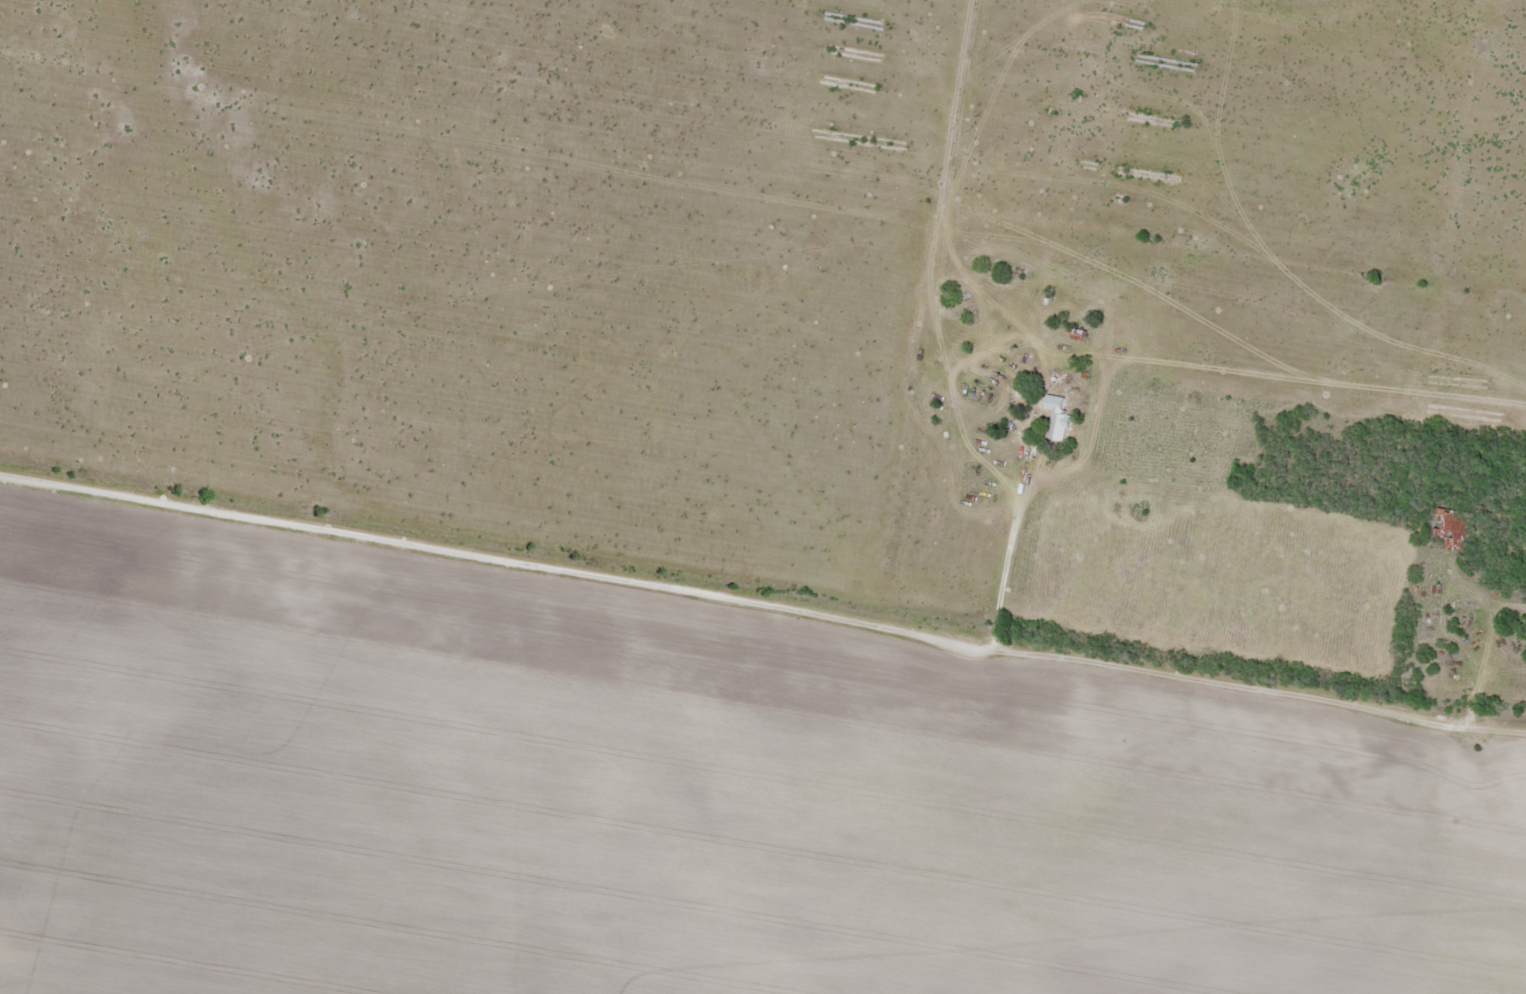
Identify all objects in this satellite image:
building: (1058, 416)
road: (781, 620)

